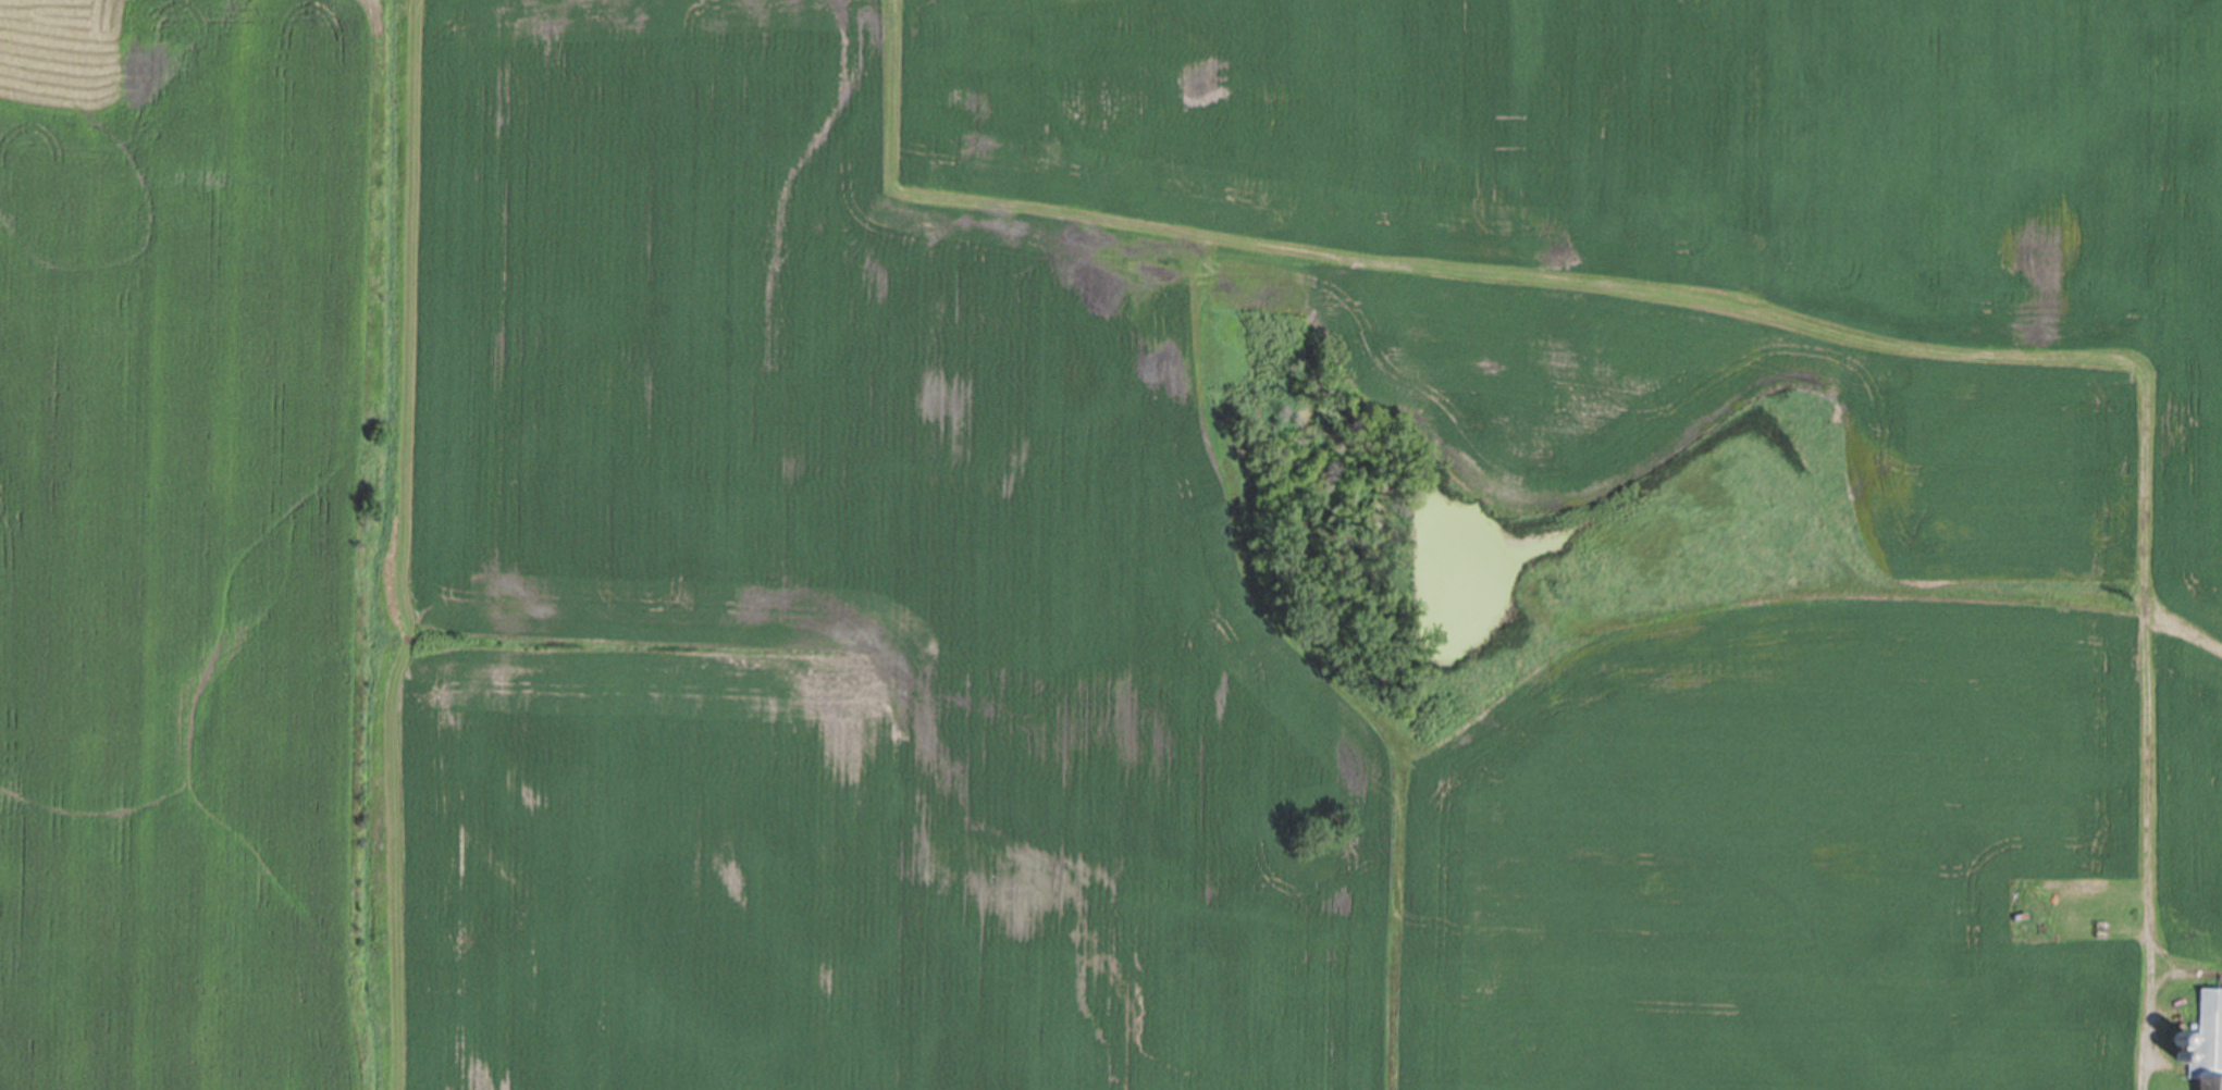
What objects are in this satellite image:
building: (2017, 922)
road: (2145, 1024)
building: (2205, 1039)

